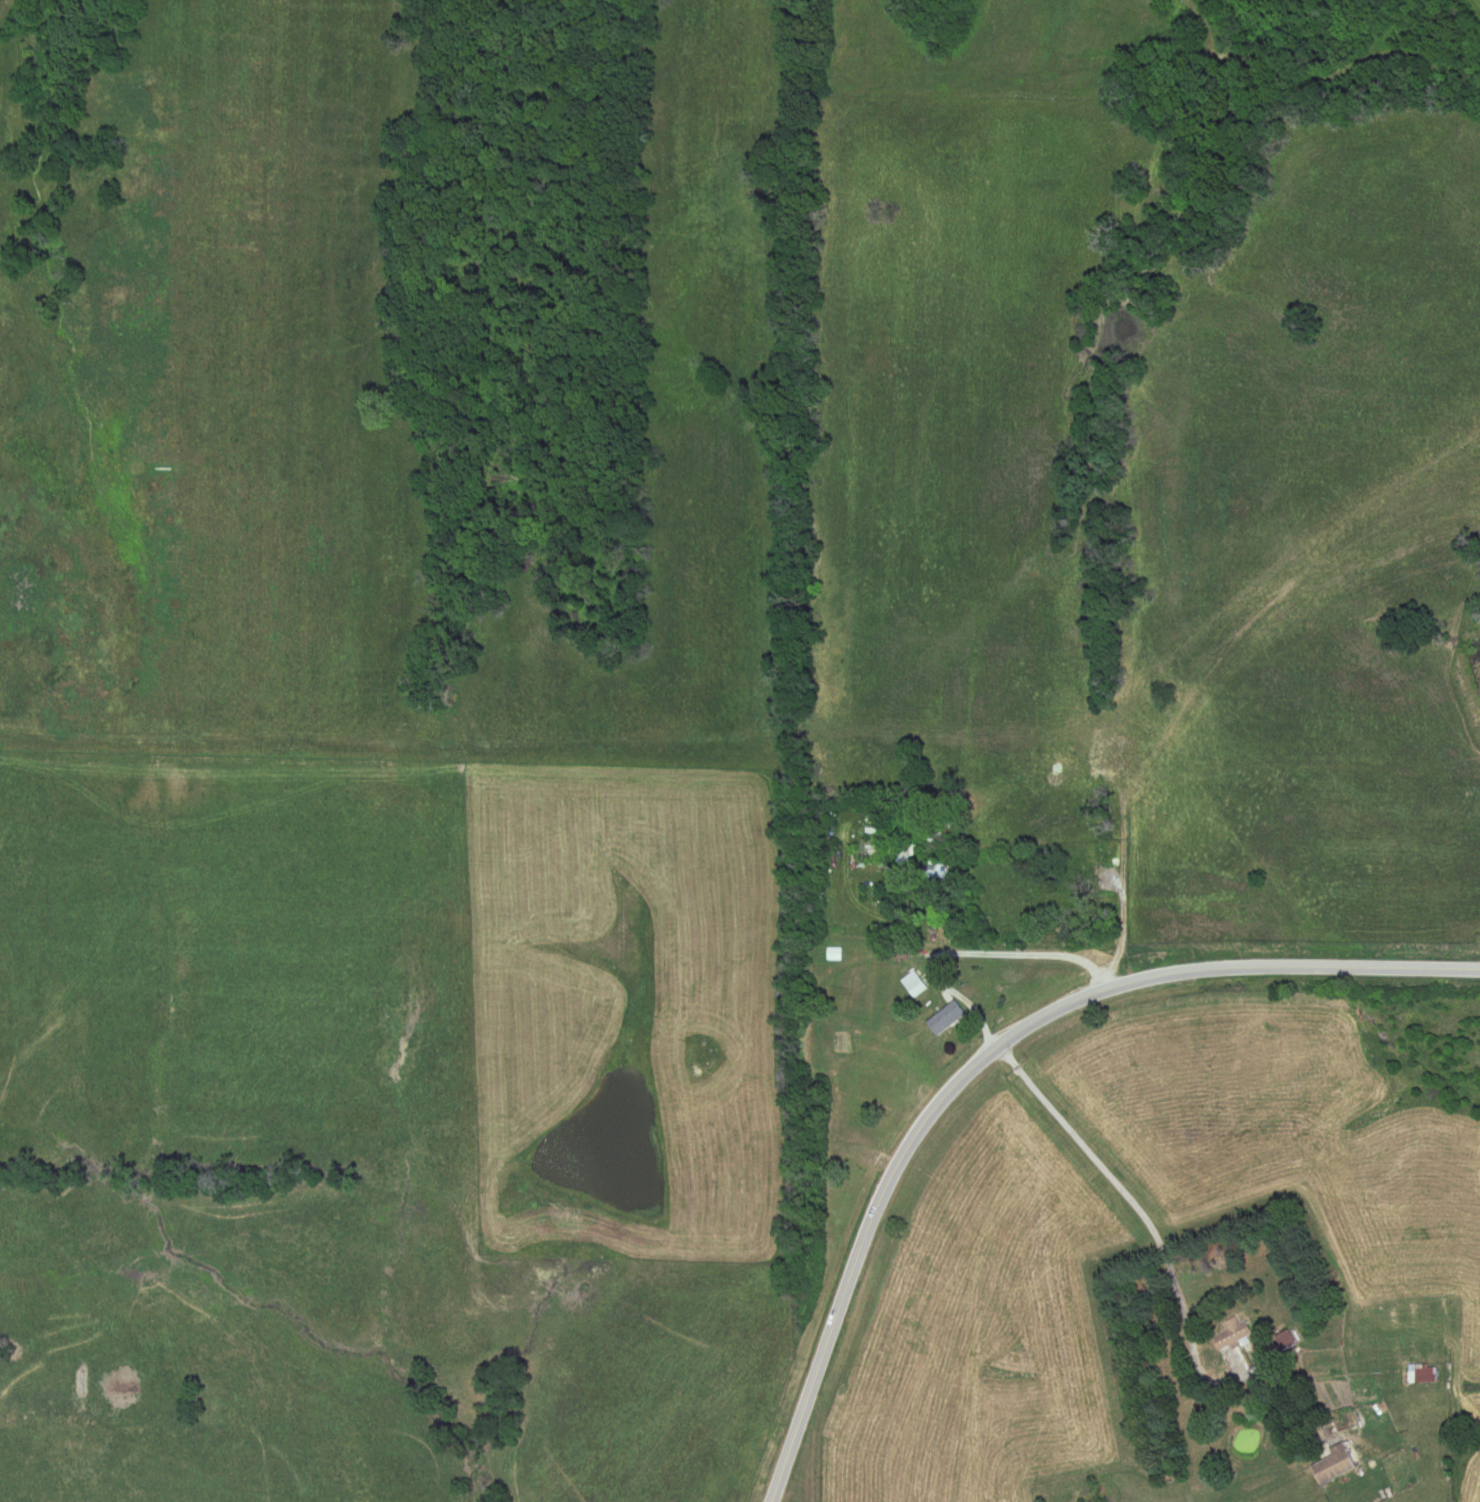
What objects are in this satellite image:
building: (1107, 754)
building: (1161, 831)
building: (904, 858)
building: (1095, 893)
building: (1069, 901)
road: (968, 942)
building: (833, 955)
building: (914, 985)
building: (946, 1019)
road: (991, 1052)
road: (1168, 1260)
building: (1230, 1335)
building: (1421, 1375)
building: (1333, 1466)

